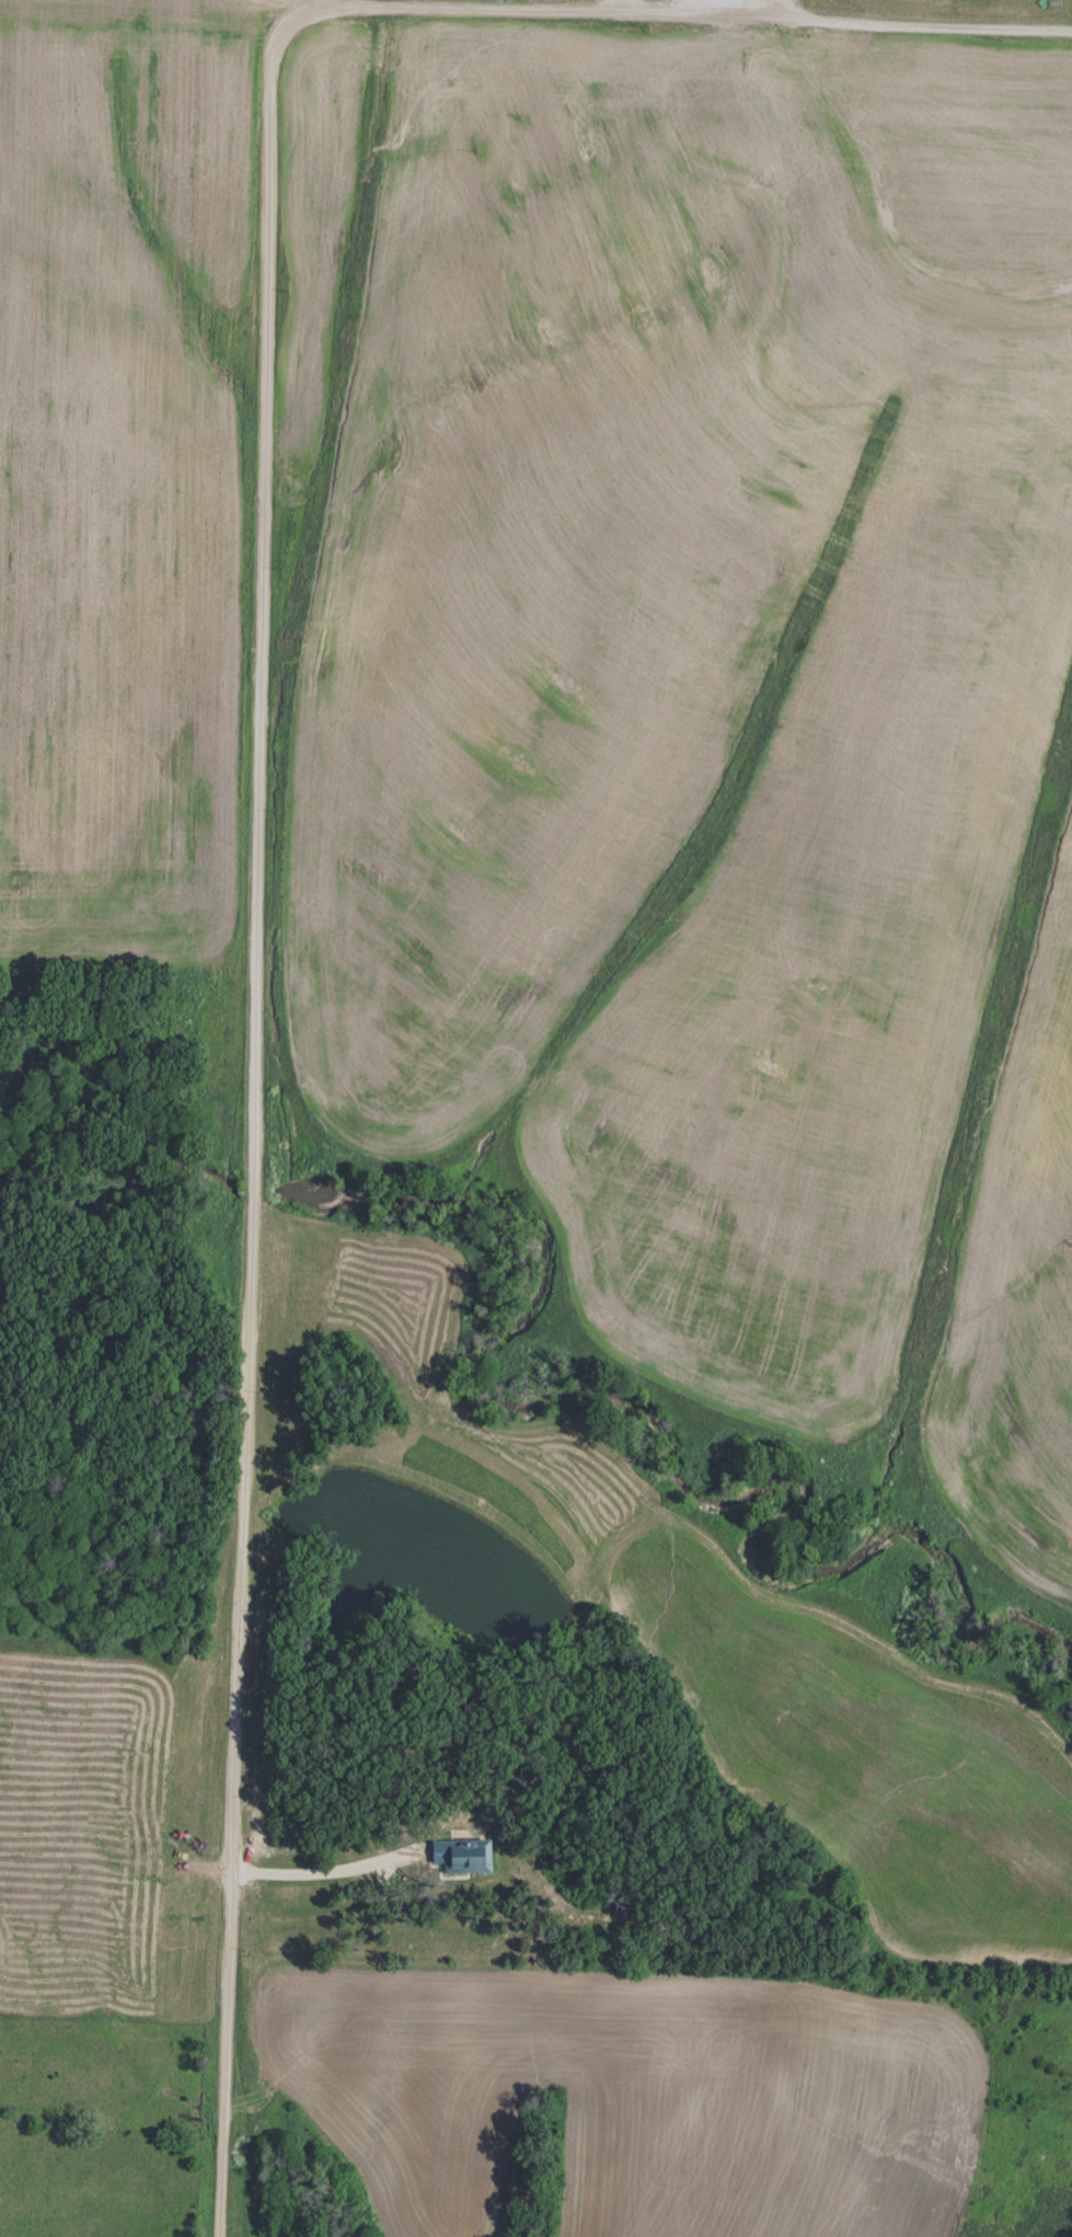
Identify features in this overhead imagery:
road: (637, 7)
road: (831, 20)
road: (252, 966)
building: (97, 1790)
building: (464, 1855)

